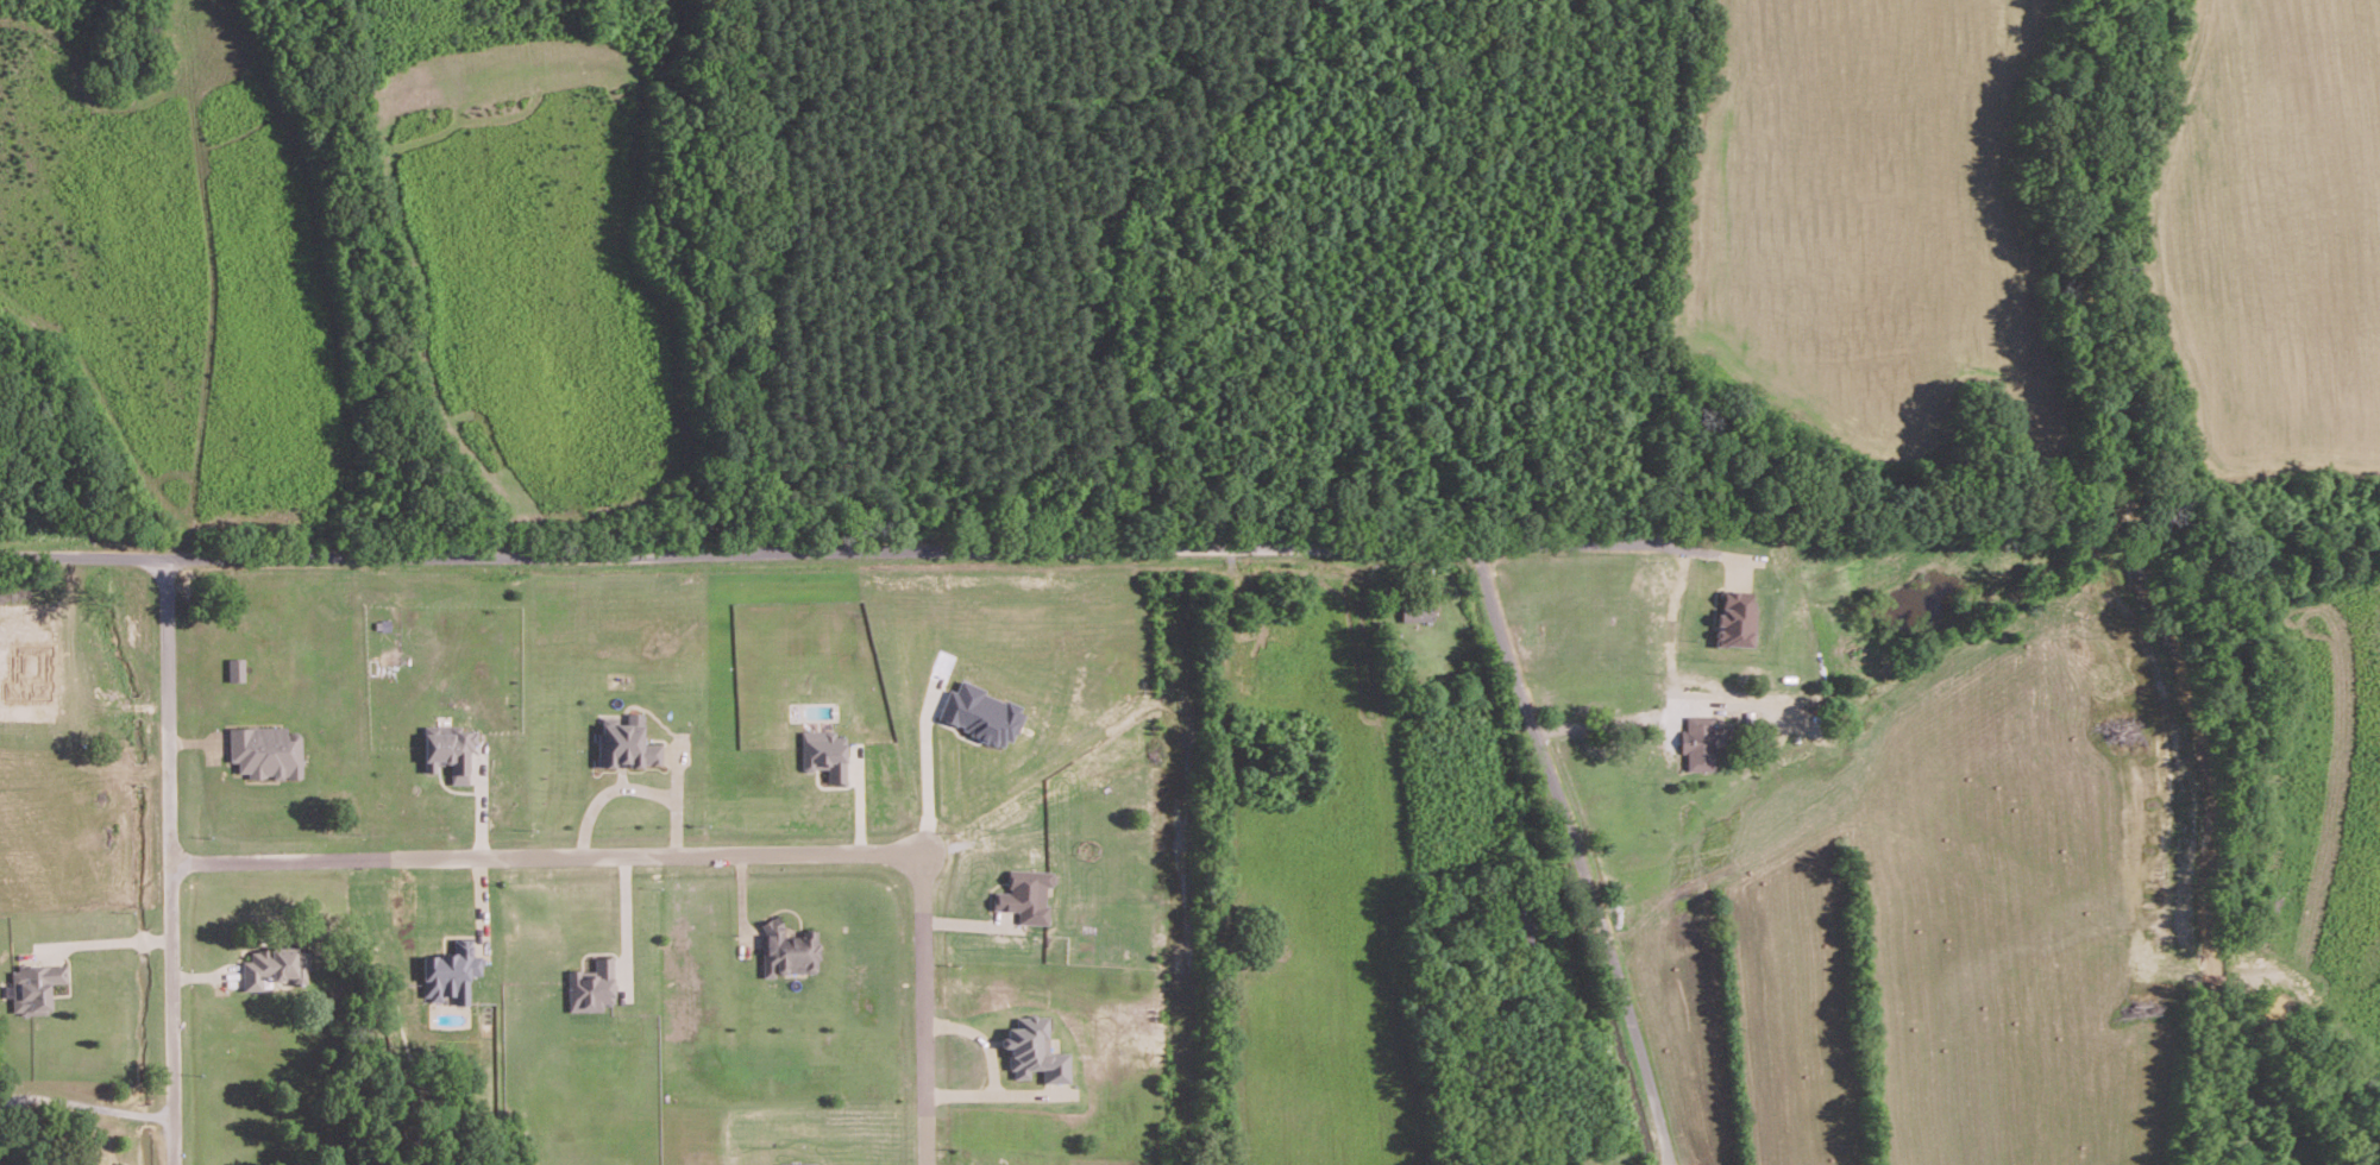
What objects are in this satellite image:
road: (848, 550)
building: (1417, 611)
building: (1735, 617)
building: (236, 669)
building: (981, 713)
road: (1597, 714)
building: (1697, 742)
building: (627, 743)
building: (450, 749)
building: (265, 751)
building: (824, 752)
road: (927, 780)
road: (1575, 854)
road: (547, 855)
road: (170, 862)
building: (1026, 895)
road: (626, 918)
road: (109, 940)
building: (789, 950)
building: (268, 965)
building: (451, 971)
building: (36, 985)
building: (591, 985)
road: (924, 1007)
building: (1035, 1050)
road: (86, 1103)
building: (798, 1163)

